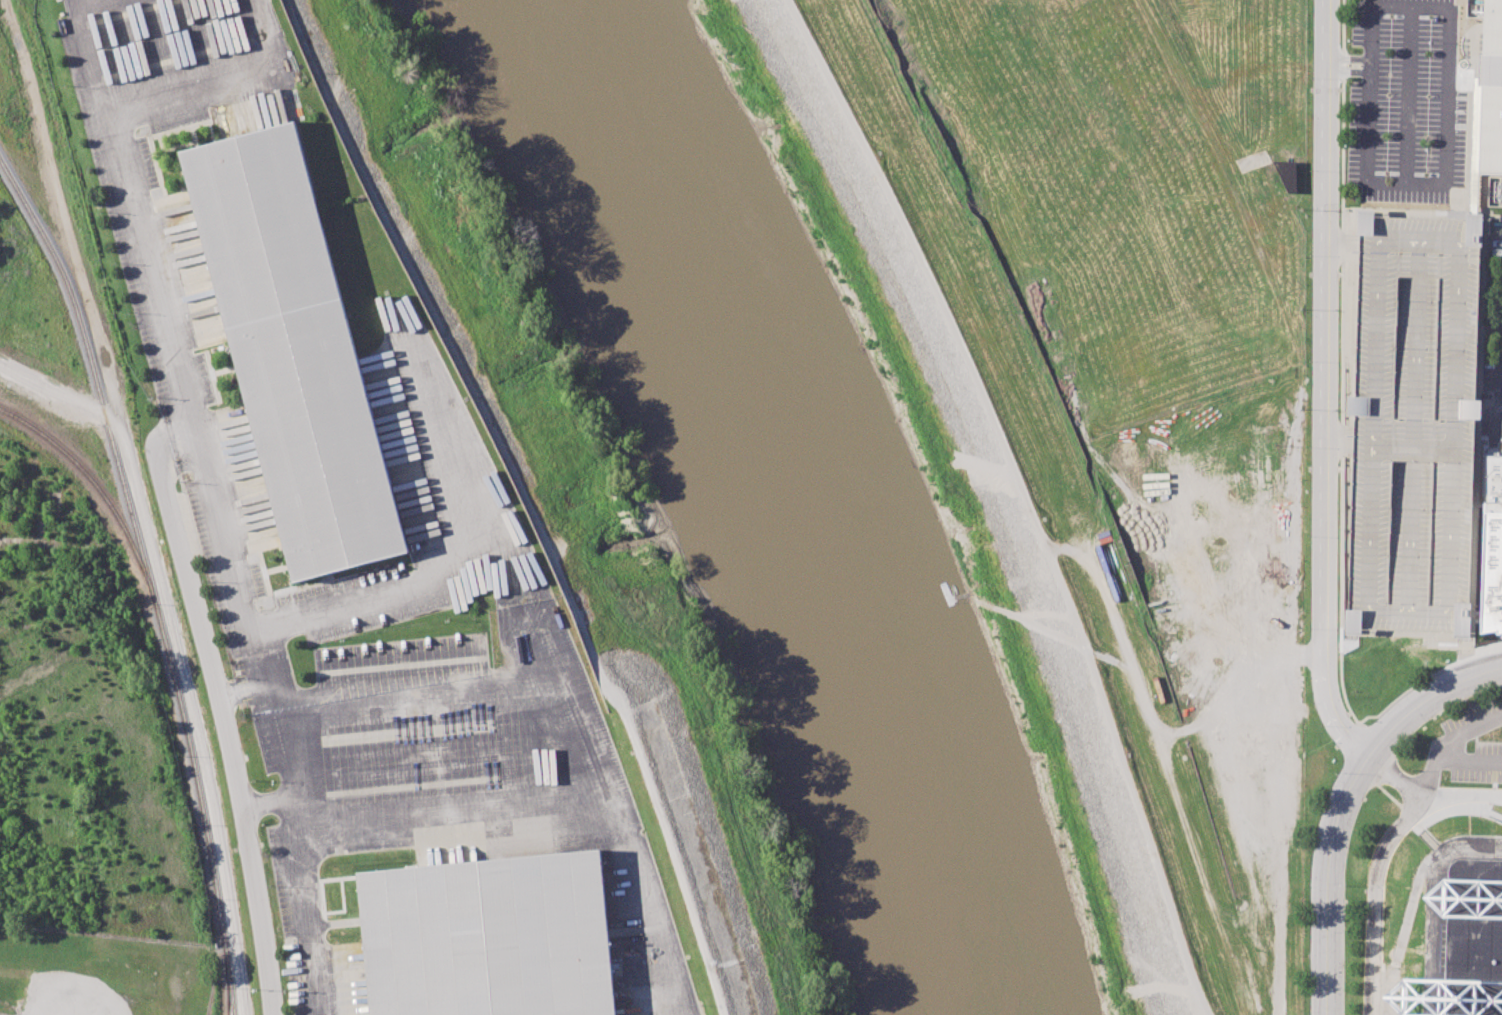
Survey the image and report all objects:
building: (1474, 8)
road: (1345, 58)
road: (92, 61)
road: (1345, 71)
road: (233, 85)
building: (1491, 90)
parking lot: (1404, 100)
road: (1446, 129)
building: (1287, 174)
road: (147, 269)
building: (1415, 349)
parking lot: (1494, 353)
building: (293, 354)
road: (1320, 387)
road: (57, 393)
parking lot: (1415, 424)
road: (177, 427)
road: (1498, 428)
road: (163, 449)
parking lot: (442, 476)
railway: (99, 491)
road: (1025, 496)
river: (786, 497)
road: (139, 503)
building: (1492, 541)
railway: (142, 554)
road: (572, 607)
road: (340, 609)
building: (1353, 621)
building: (1501, 629)
road: (1283, 653)
road: (257, 662)
road: (582, 702)
road: (226, 735)
parking lot: (1467, 745)
road: (1429, 791)
road: (1341, 798)
road: (265, 808)
road: (454, 812)
road: (1420, 821)
building: (1498, 822)
road: (289, 823)
road: (1376, 887)
road: (1417, 901)
road: (1385, 924)
building: (488, 937)
building: (1463, 946)
stadium: (1463, 946)
railway: (228, 991)
railway: (230, 991)

